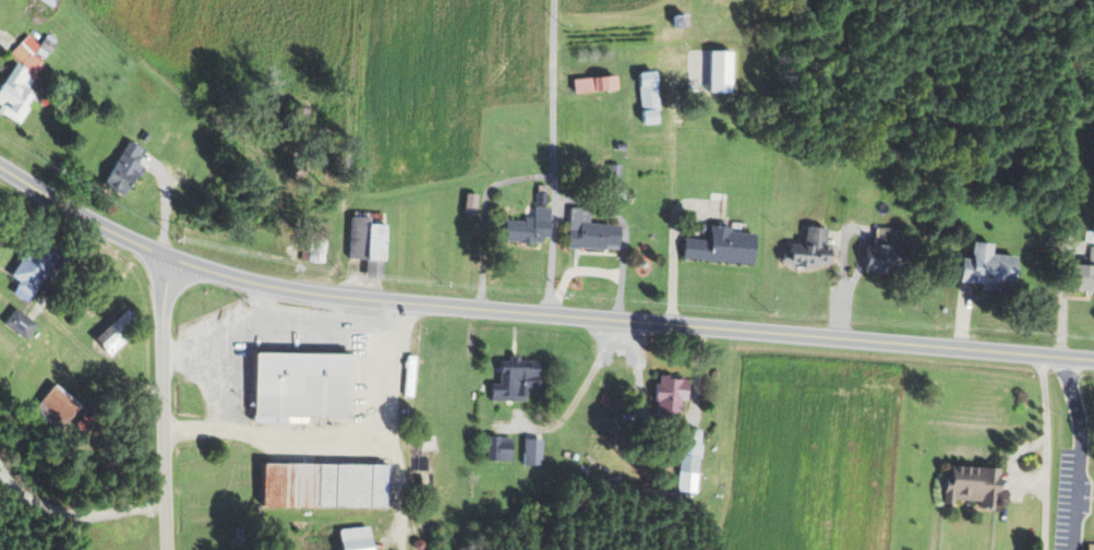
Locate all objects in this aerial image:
building: (50, 1)
building: (34, 52)
building: (597, 84)
building: (17, 93)
building: (651, 97)
building: (183, 155)
road: (553, 157)
building: (127, 168)
building: (472, 204)
road: (483, 215)
building: (533, 222)
building: (592, 231)
building: (369, 239)
building: (723, 247)
building: (814, 250)
road: (844, 250)
building: (888, 251)
building: (38, 265)
building: (991, 268)
building: (1086, 275)
road: (533, 313)
building: (21, 323)
building: (116, 334)
building: (517, 380)
building: (303, 387)
road: (580, 393)
building: (672, 396)
building: (60, 403)
road: (164, 405)
road: (666, 420)
road: (395, 425)
road: (280, 434)
building: (501, 449)
building: (693, 451)
road: (1045, 451)
building: (533, 452)
road: (1080, 453)
building: (327, 483)
building: (977, 483)
building: (359, 538)
building: (1092, 546)

